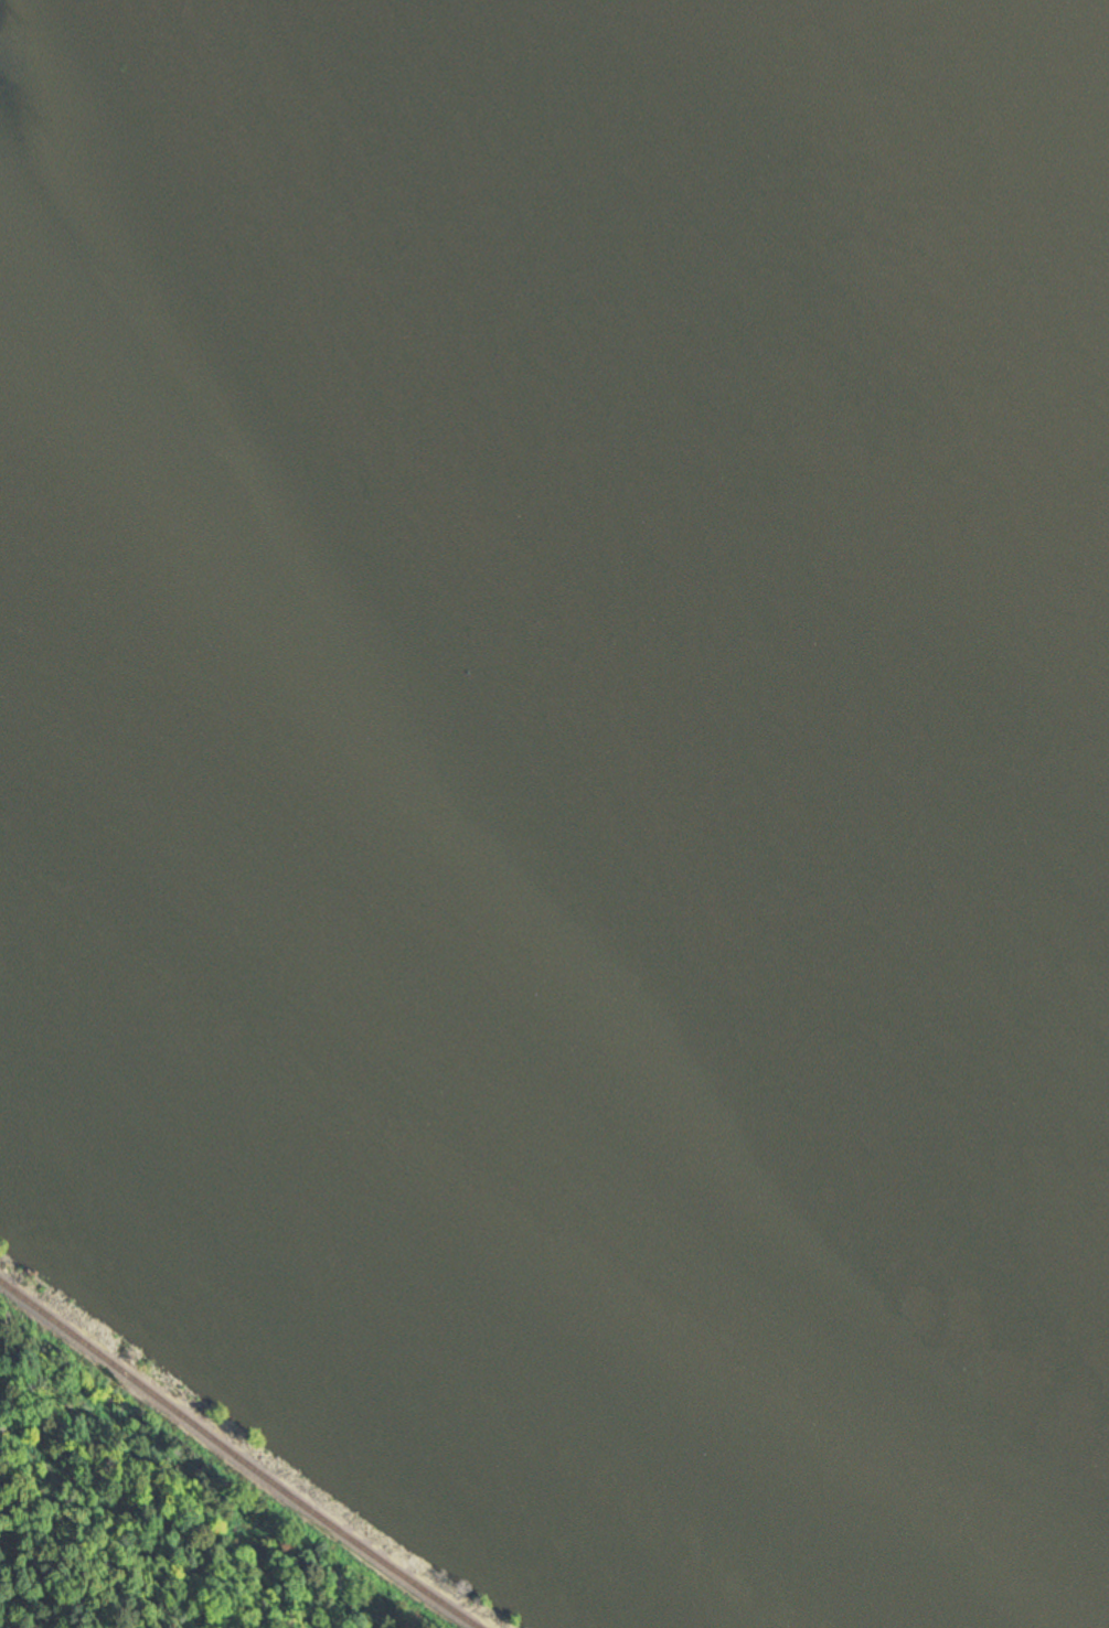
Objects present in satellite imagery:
river: (770, 425)
railway: (239, 1457)

